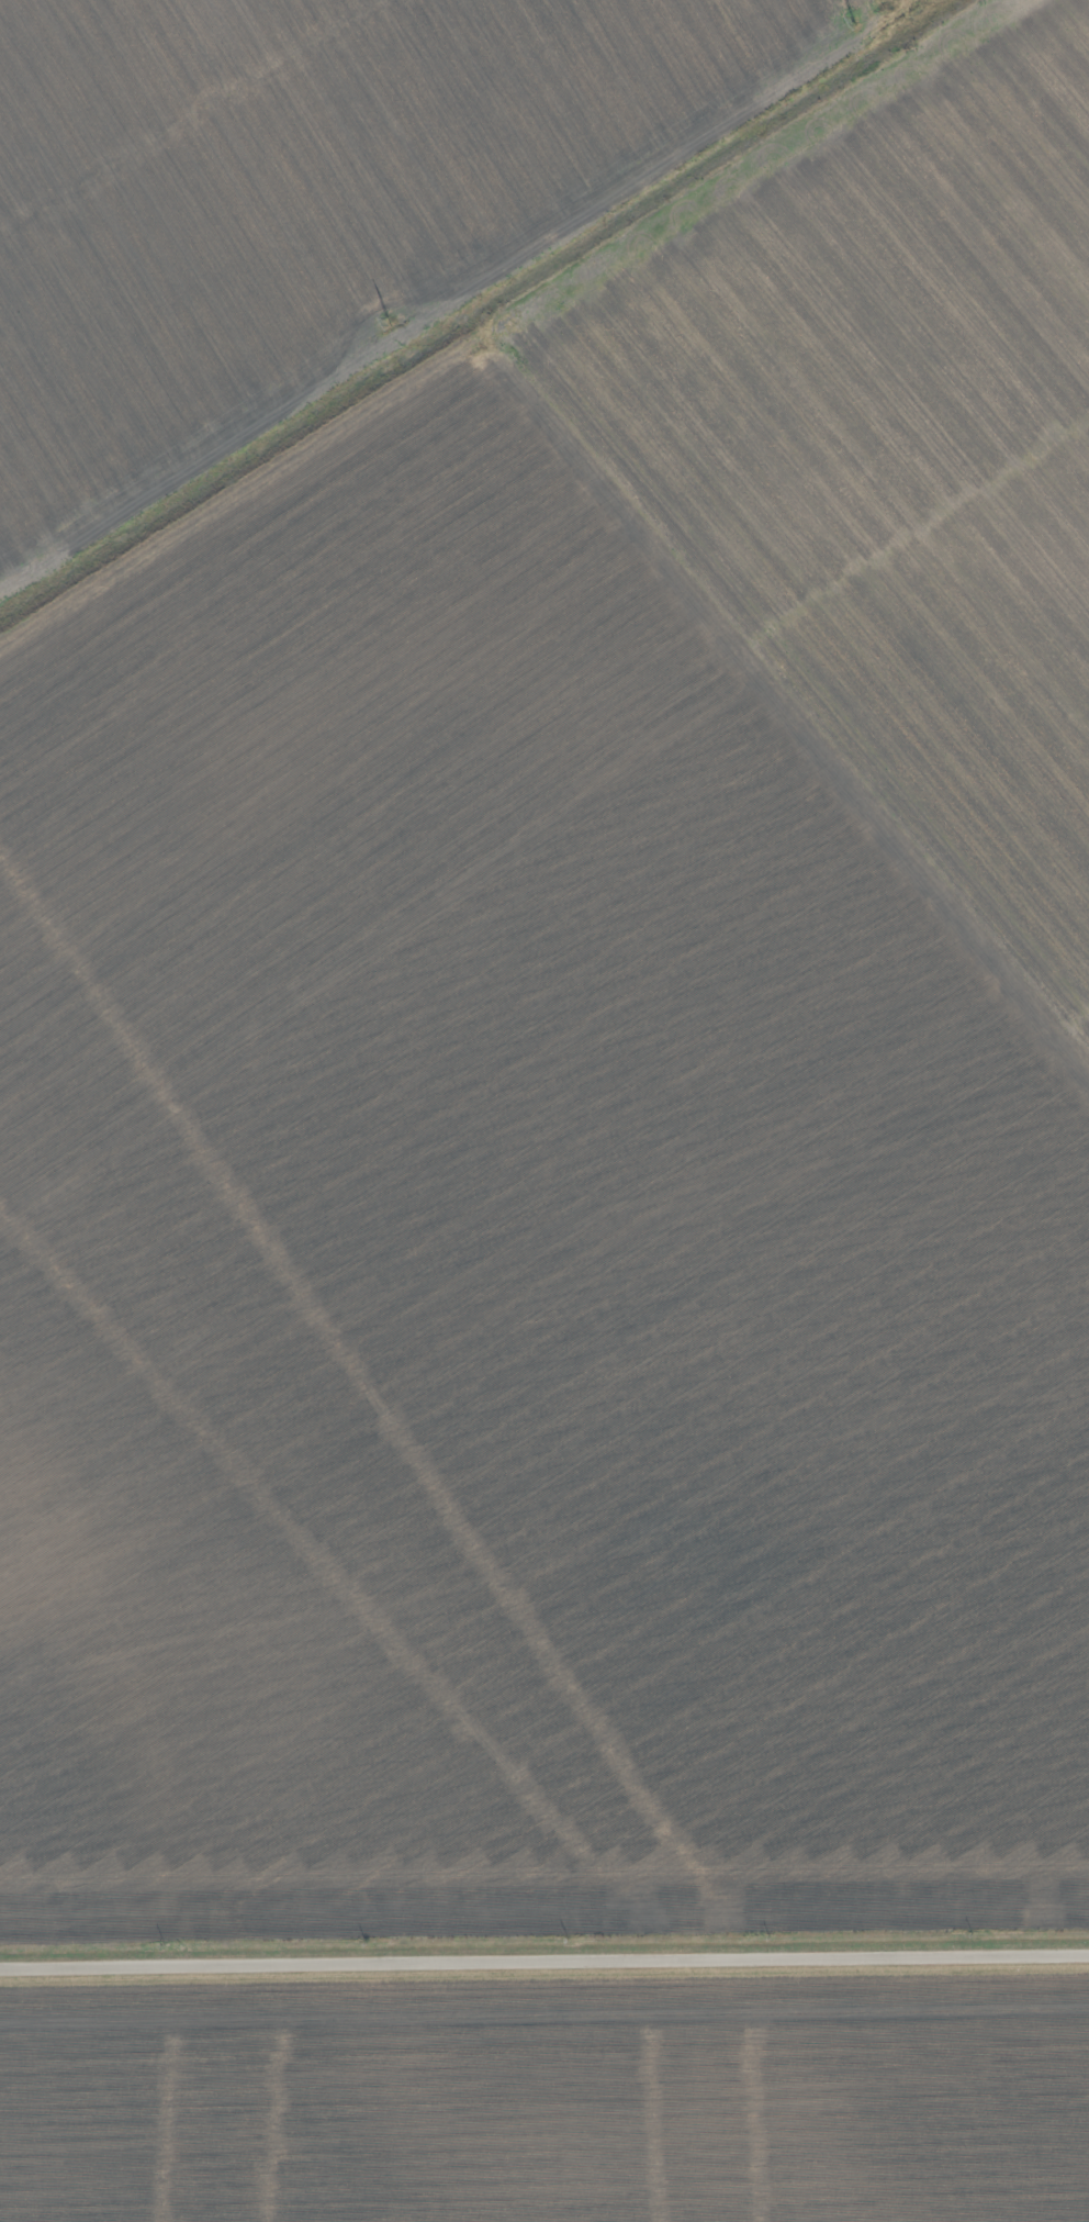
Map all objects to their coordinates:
power tower: (856, 21)
power tower: (393, 322)
road: (544, 1955)

